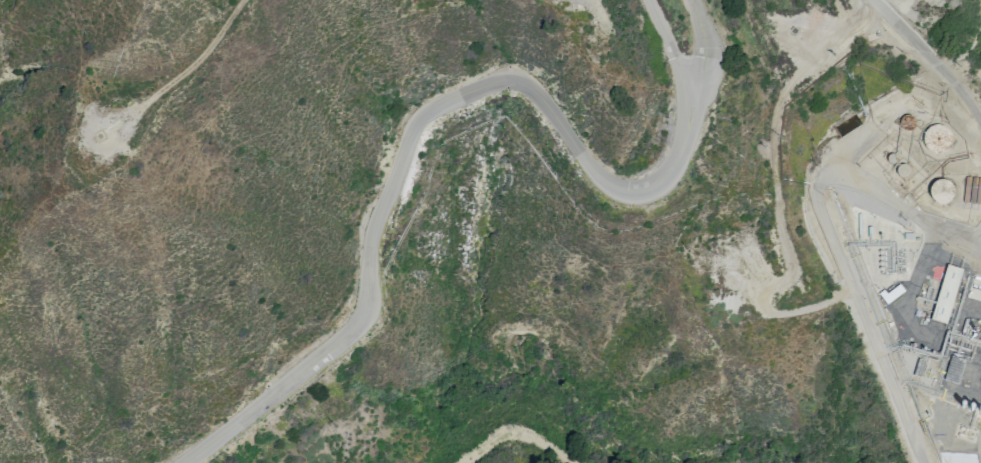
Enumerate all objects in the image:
road: (671, 44)
road: (708, 44)
road: (930, 56)
road: (204, 59)
road: (412, 133)
road: (87, 142)
road: (786, 238)
road: (833, 240)
building: (946, 294)

